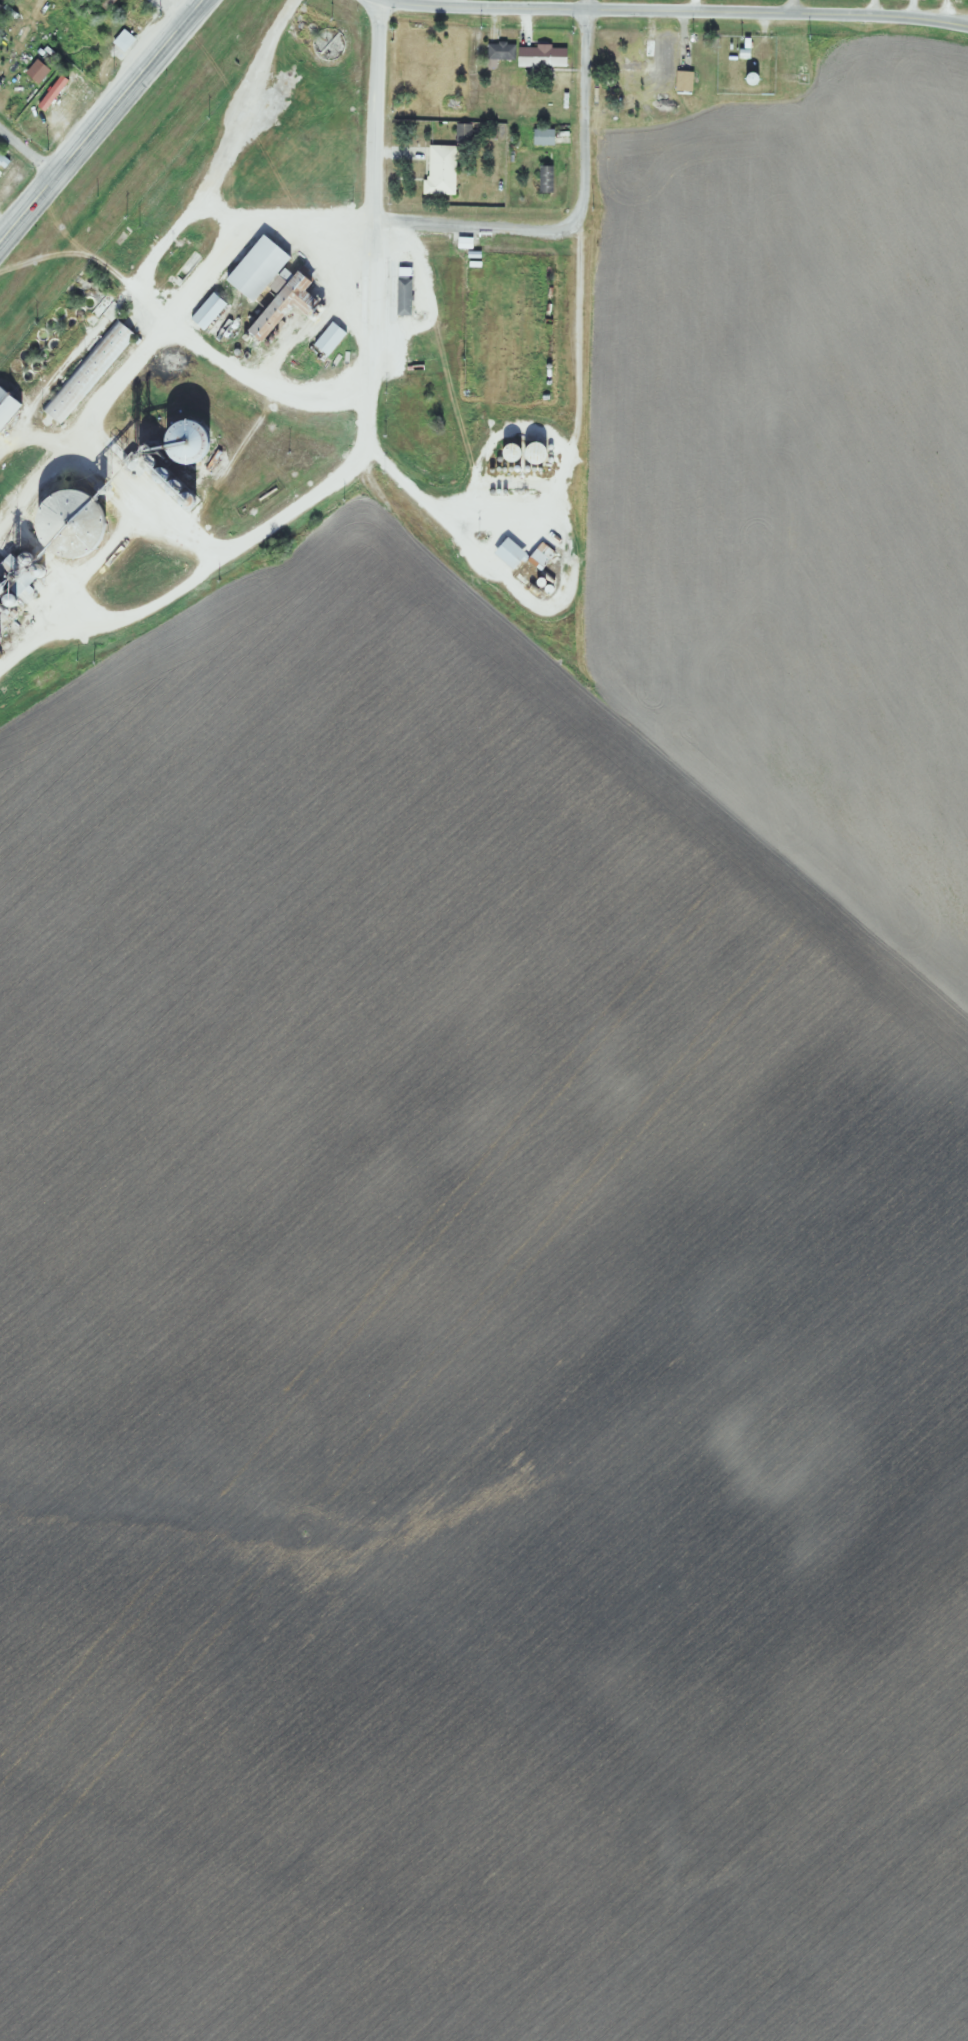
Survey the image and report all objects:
road: (792, 6)
road: (171, 10)
road: (670, 10)
building: (120, 40)
building: (526, 54)
building: (658, 55)
building: (295, 66)
building: (744, 78)
building: (680, 81)
road: (100, 119)
building: (464, 133)
building: (539, 137)
road: (26, 153)
building: (438, 171)
railway: (146, 174)
building: (543, 179)
road: (370, 200)
road: (574, 212)
road: (280, 214)
road: (147, 260)
building: (258, 266)
building: (401, 295)
building: (286, 298)
building: (208, 309)
building: (329, 335)
building: (87, 370)
building: (6, 403)
building: (188, 439)
silo: (188, 439)
building: (509, 450)
storage tank: (509, 450)
building: (532, 450)
storage tank: (532, 450)
building: (69, 523)
silo: (69, 523)
building: (510, 551)
building: (540, 554)

